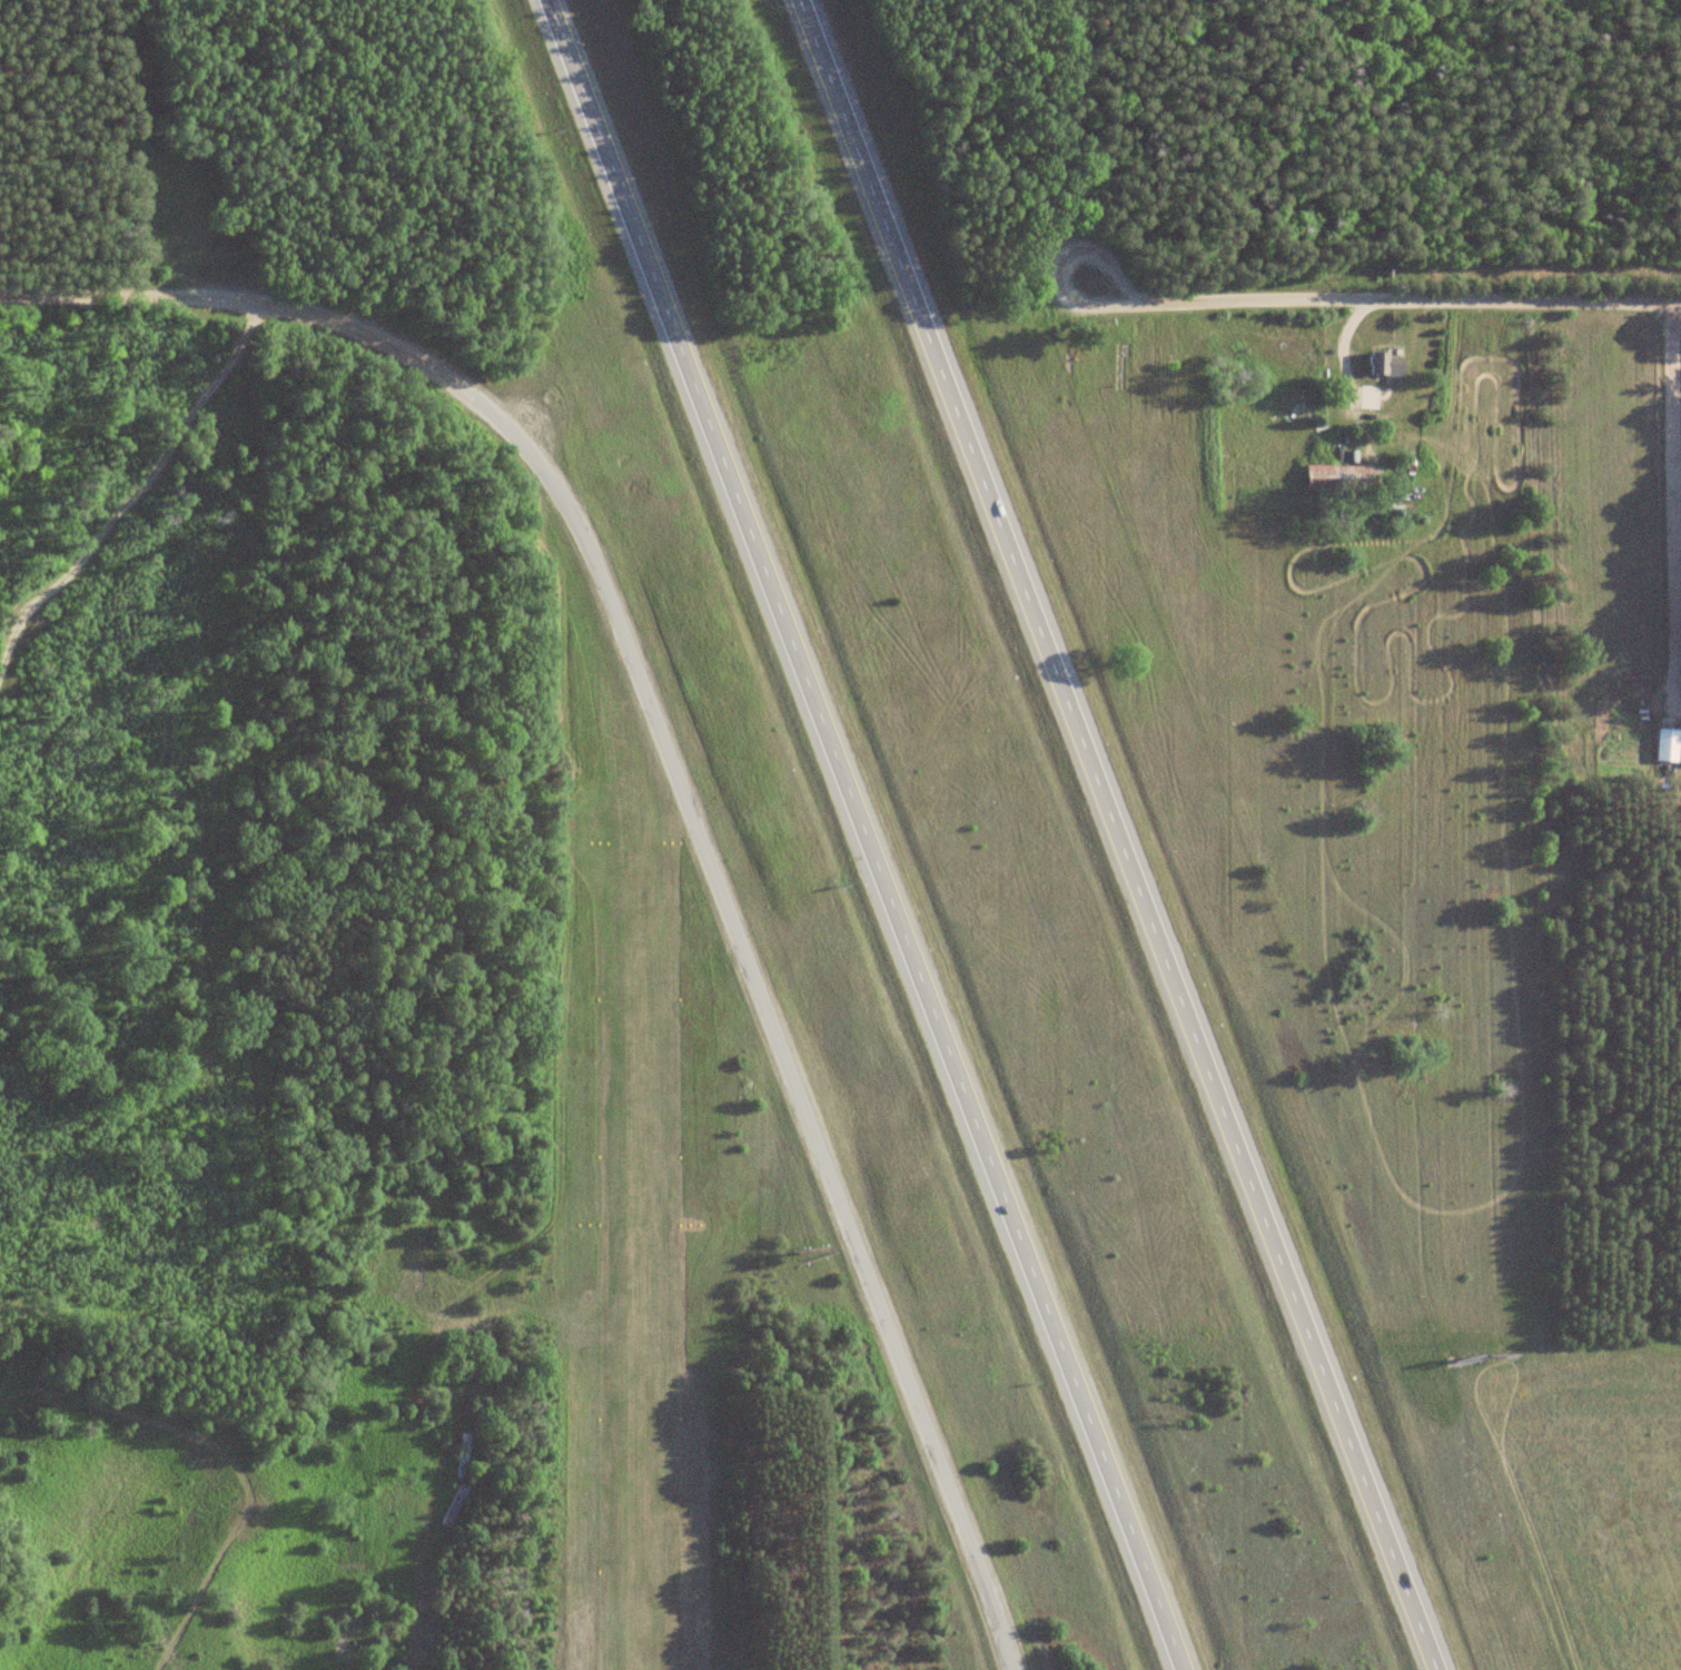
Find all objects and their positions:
road: (160, 298)
road: (1383, 300)
road: (1341, 363)
building: (1385, 364)
building: (1338, 477)
road: (1674, 484)
building: (1665, 743)
road: (862, 831)
road: (1117, 833)
road: (734, 940)
airport runway: (627, 1259)
building: (461, 1455)
building: (452, 1506)

